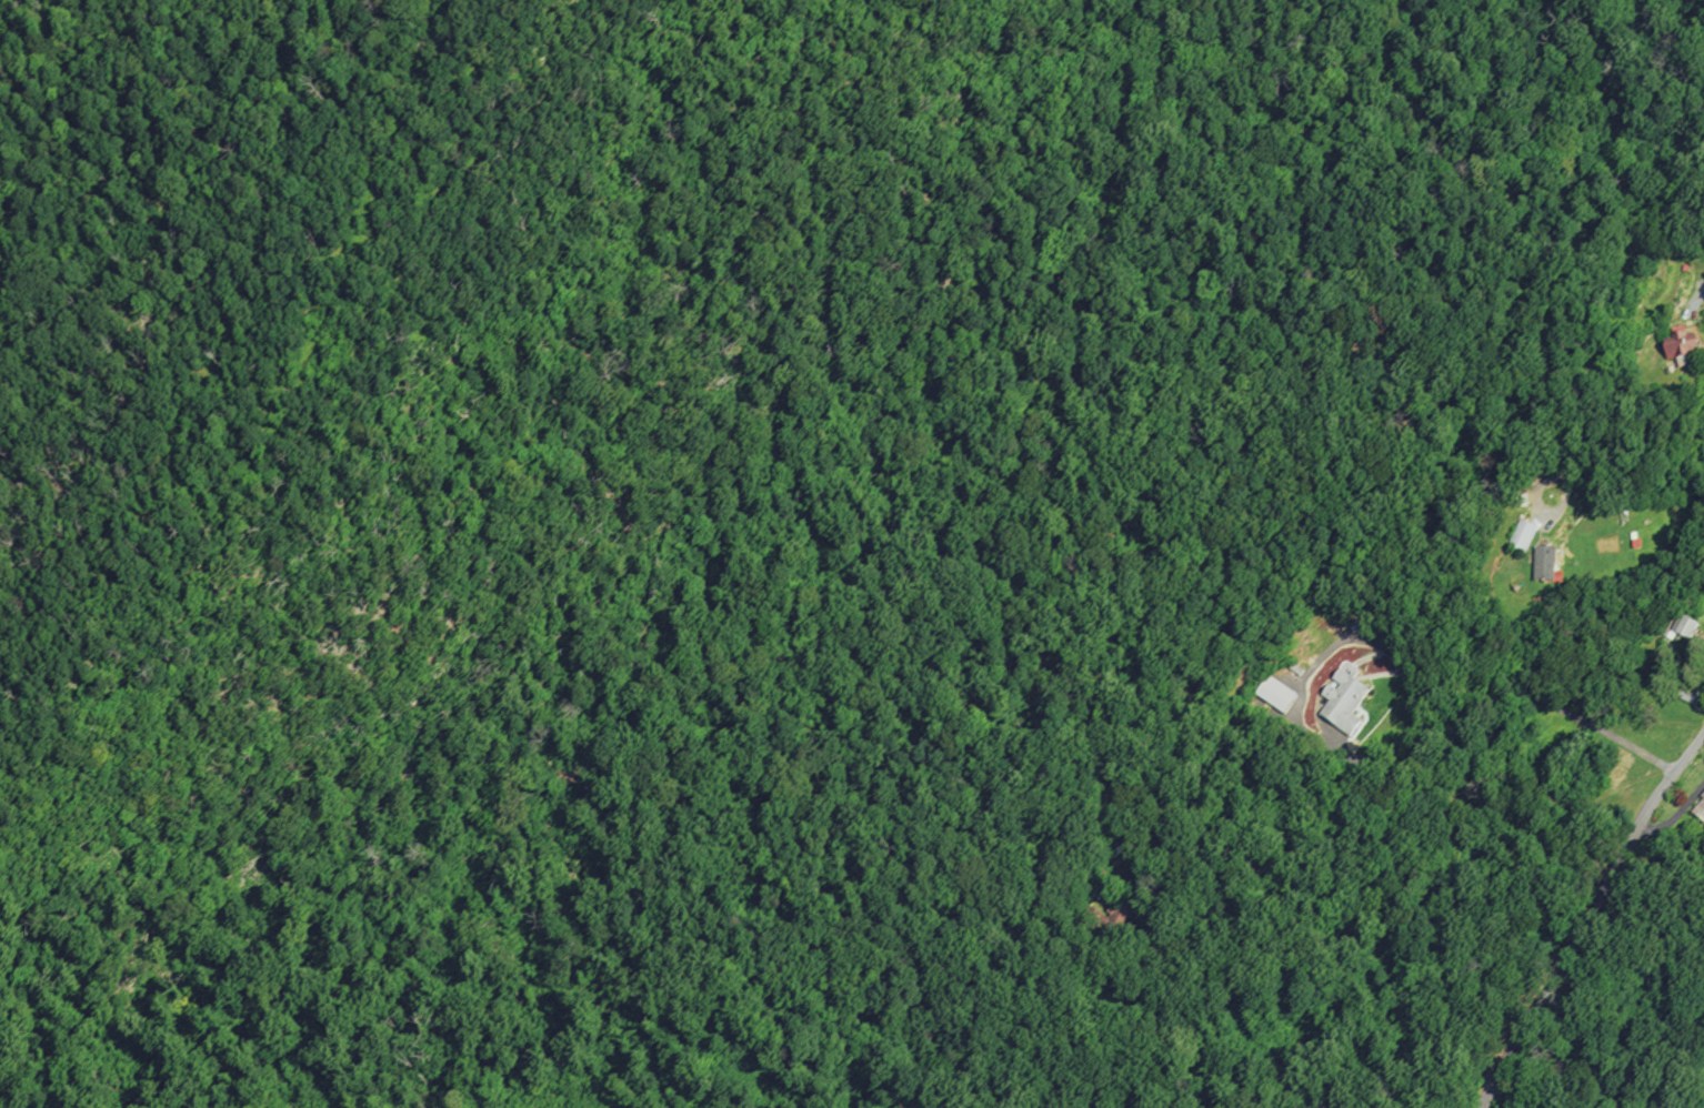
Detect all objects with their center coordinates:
road: (1694, 302)
building: (1683, 341)
road: (1633, 461)
road: (1553, 476)
building: (1524, 535)
building: (1547, 563)
building: (1356, 625)
building: (1690, 627)
building: (1297, 669)
building: (1277, 694)
building: (1345, 702)
road: (1698, 703)
road: (1402, 743)
building: (1700, 809)
road: (1674, 817)
road: (1336, 906)
building: (1127, 908)
road: (1587, 916)

